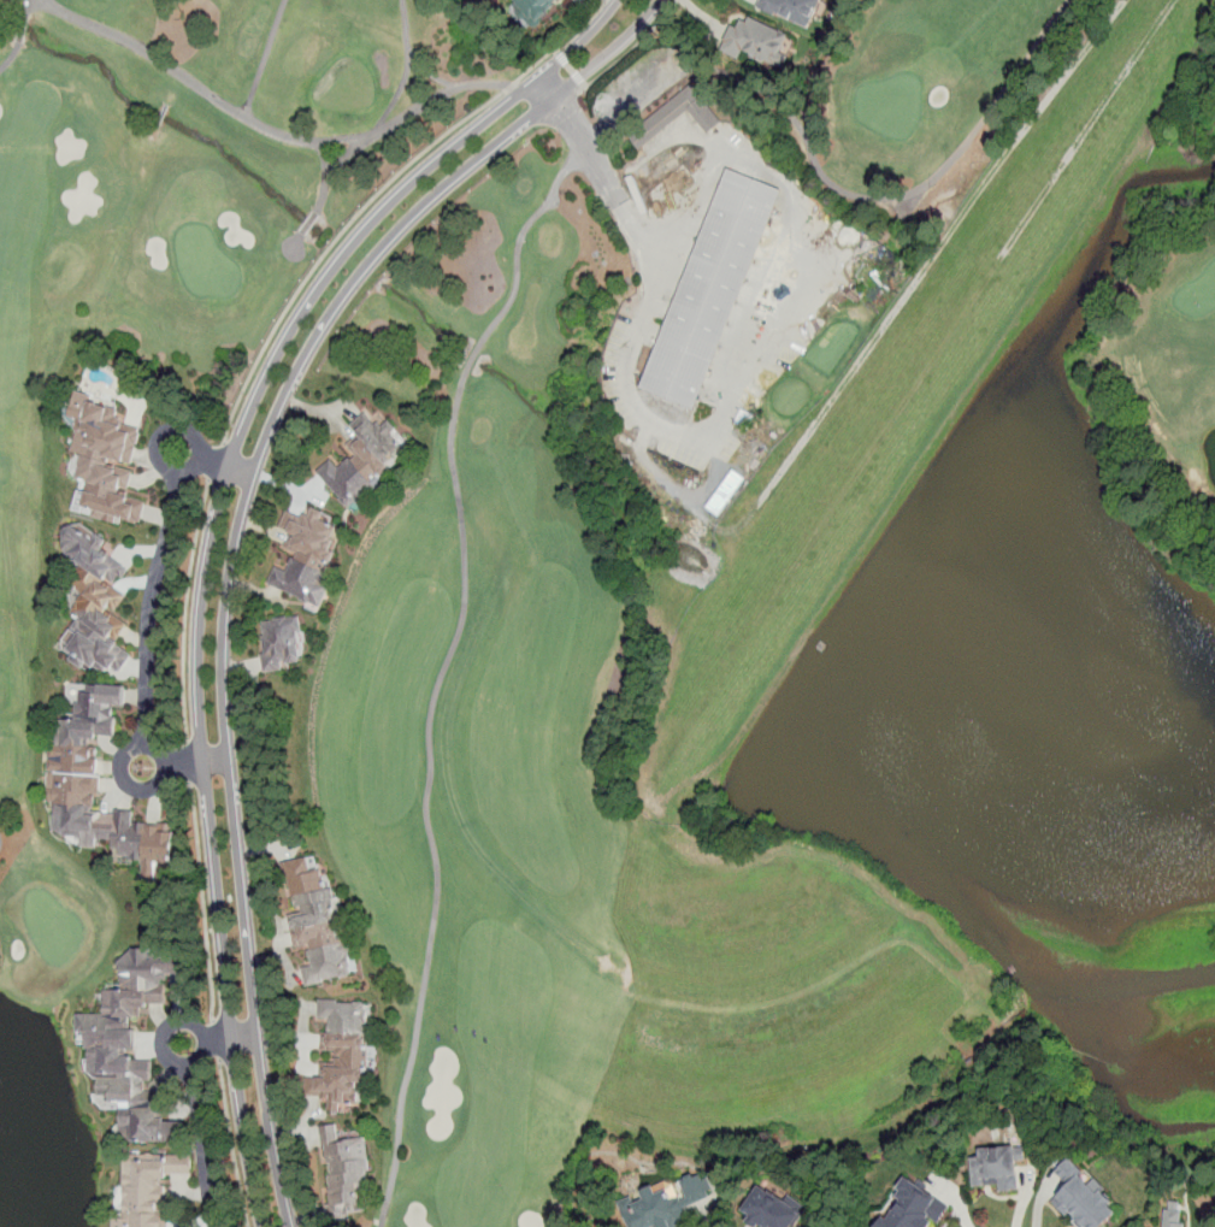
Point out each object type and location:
road: (621, 4)
road: (26, 8)
building: (535, 8)
building: (791, 10)
building: (755, 41)
road: (633, 46)
road: (11, 57)
road: (570, 67)
road: (197, 85)
road: (397, 101)
road: (414, 110)
building: (679, 114)
road: (685, 131)
road: (312, 141)
road: (606, 175)
road: (838, 188)
road: (354, 218)
road: (518, 248)
road: (288, 253)
building: (710, 289)
road: (761, 329)
building: (105, 458)
road: (217, 462)
building: (367, 462)
road: (226, 539)
park: (674, 549)
building: (307, 555)
building: (96, 602)
road: (183, 612)
road: (153, 613)
building: (279, 643)
road: (189, 765)
building: (95, 781)
road: (426, 795)
road: (204, 904)
building: (317, 924)
road: (216, 1040)
road: (216, 1042)
building: (129, 1048)
building: (344, 1052)
road: (202, 1135)
road: (232, 1143)
building: (997, 1166)
building: (346, 1173)
building: (148, 1186)
building: (1084, 1197)
building: (668, 1202)
building: (913, 1207)
building: (769, 1209)
building: (1173, 1220)

